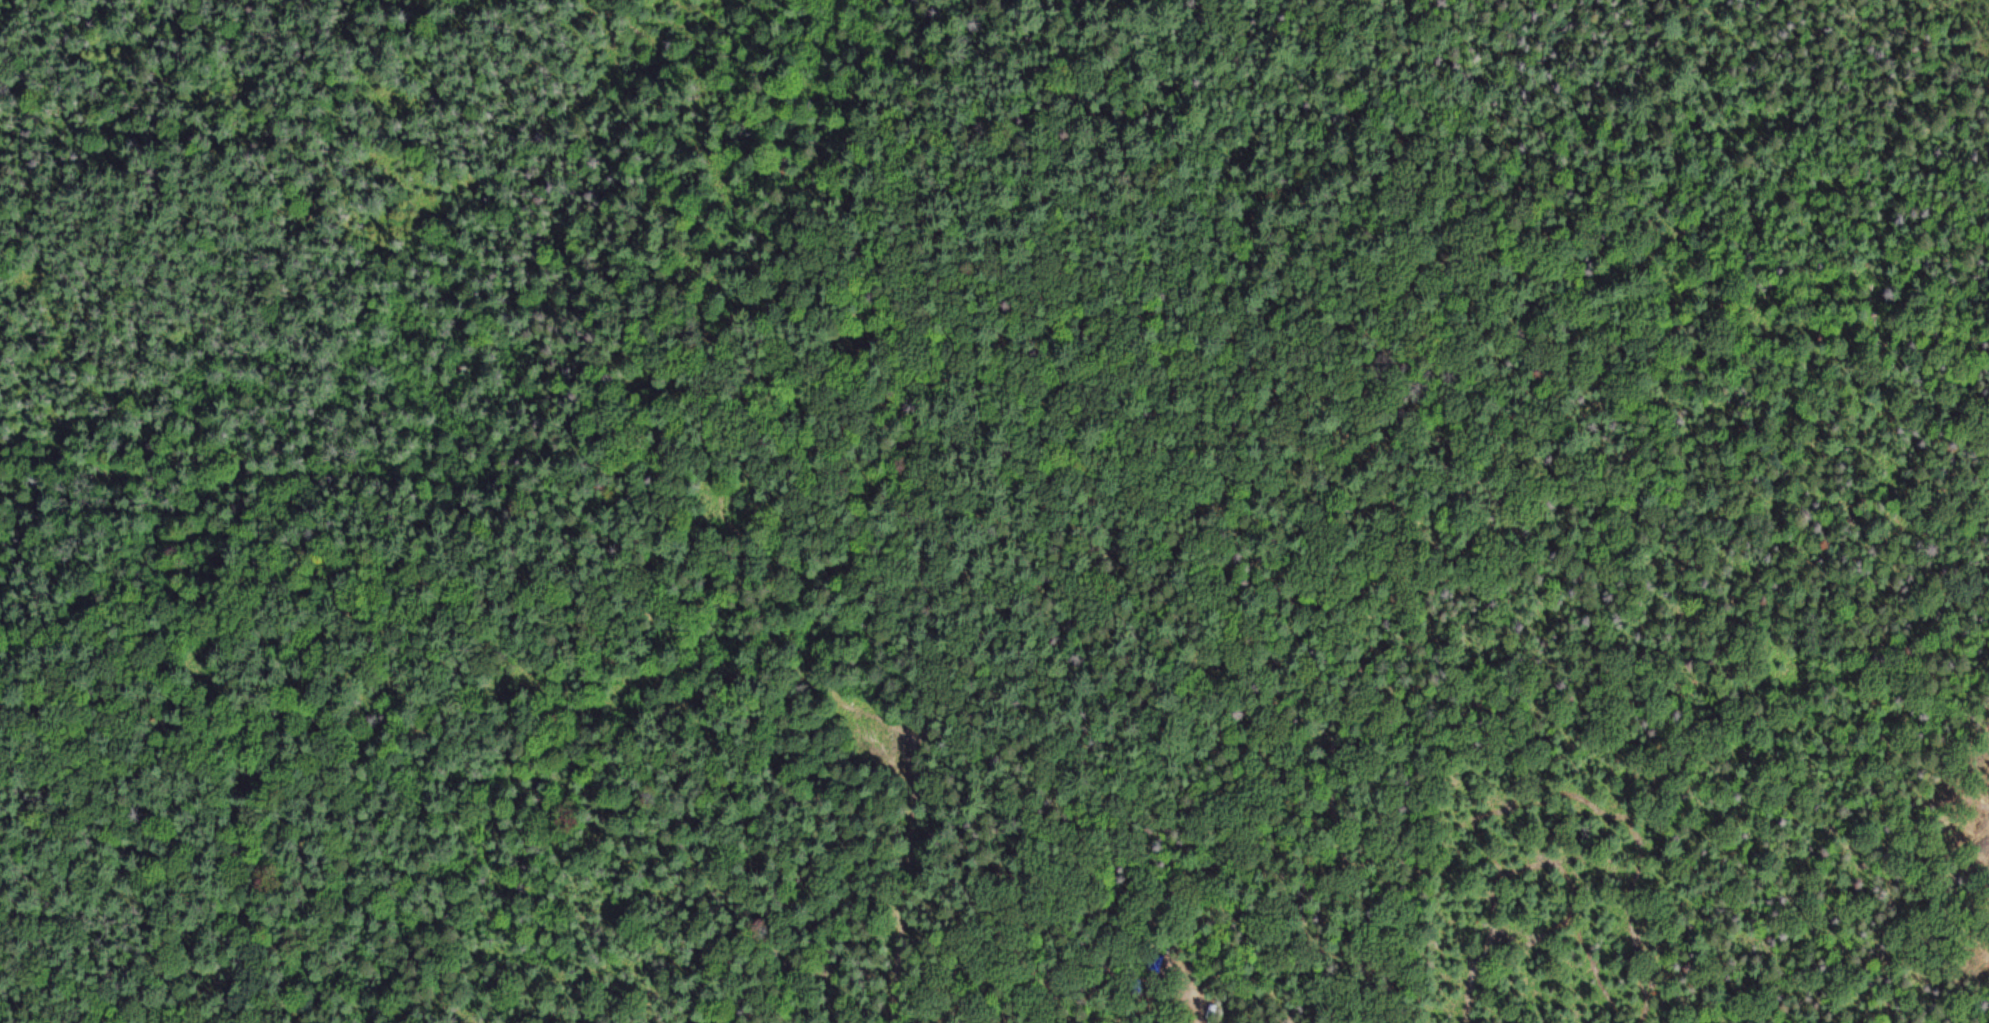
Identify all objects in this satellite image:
road: (1961, 971)

